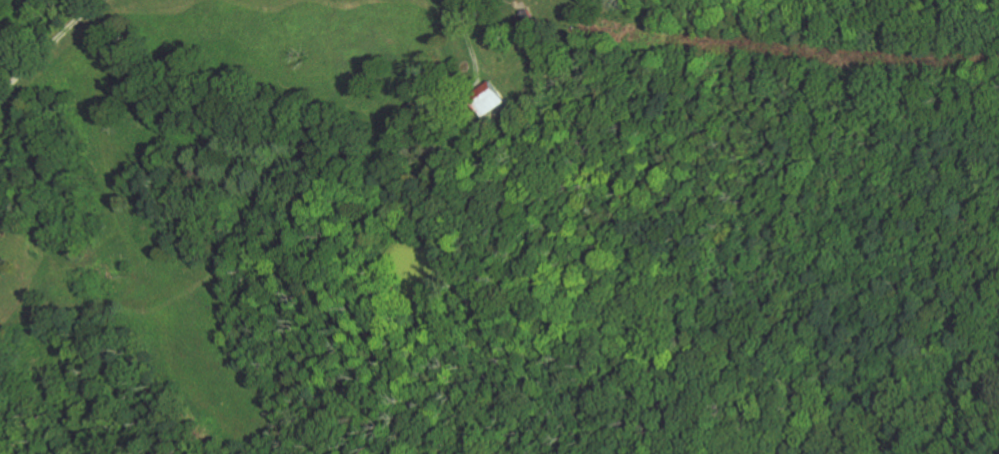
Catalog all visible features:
road: (50, 41)

